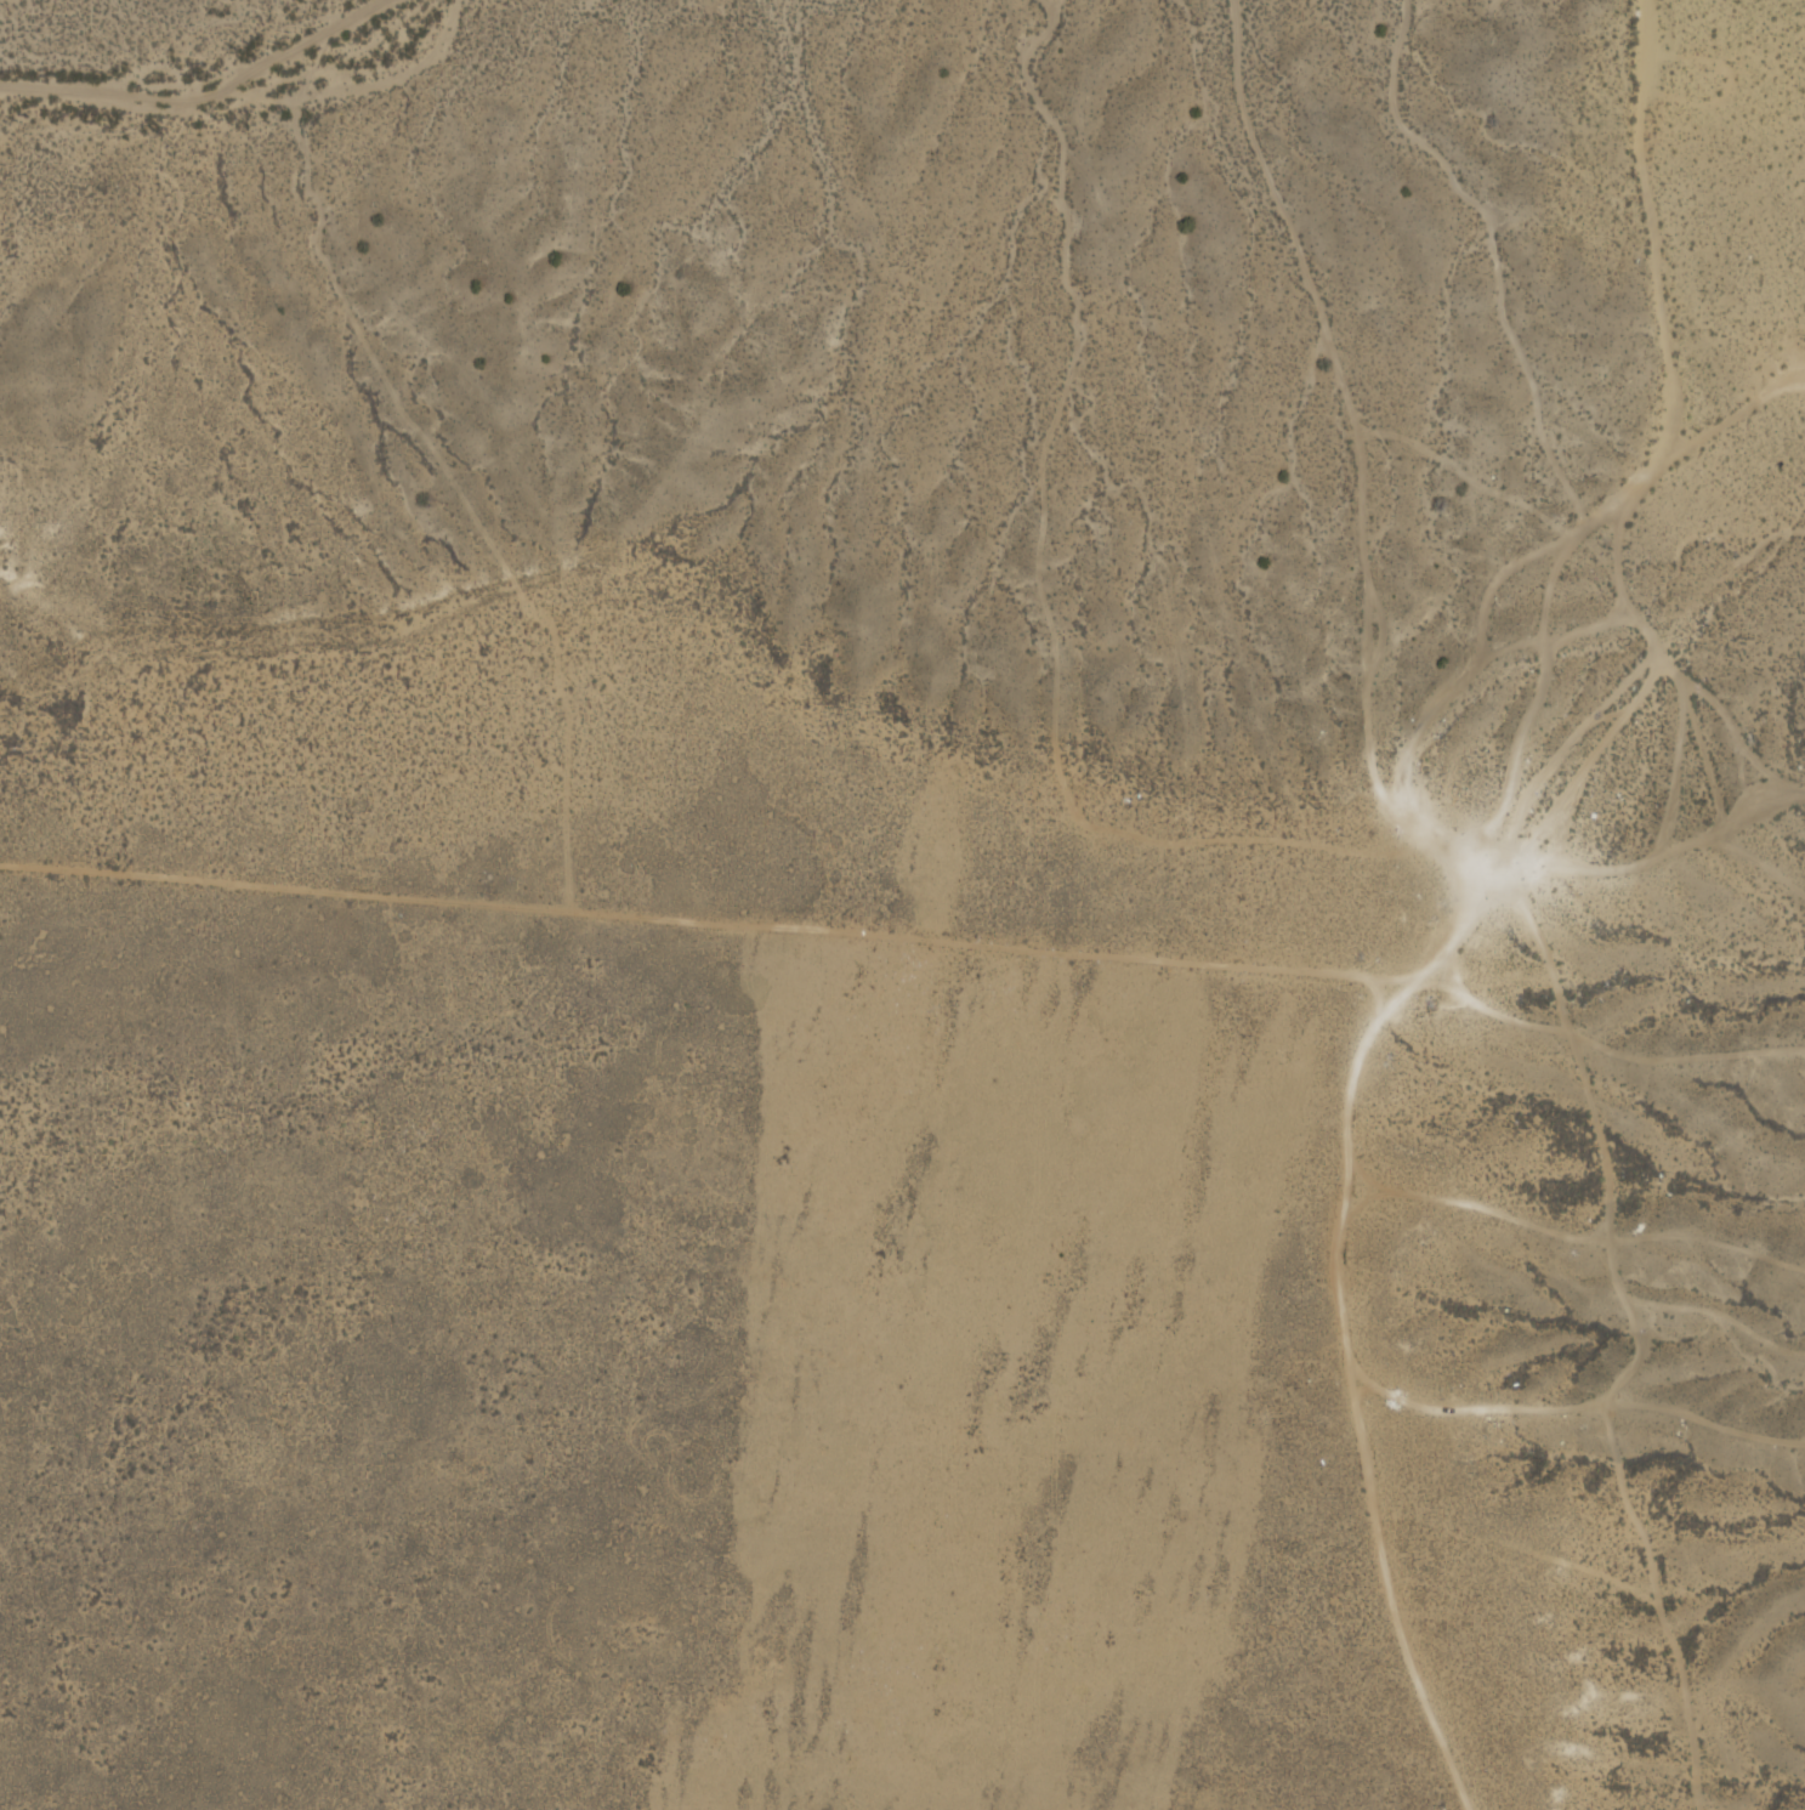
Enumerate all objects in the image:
road: (1497, 864)

